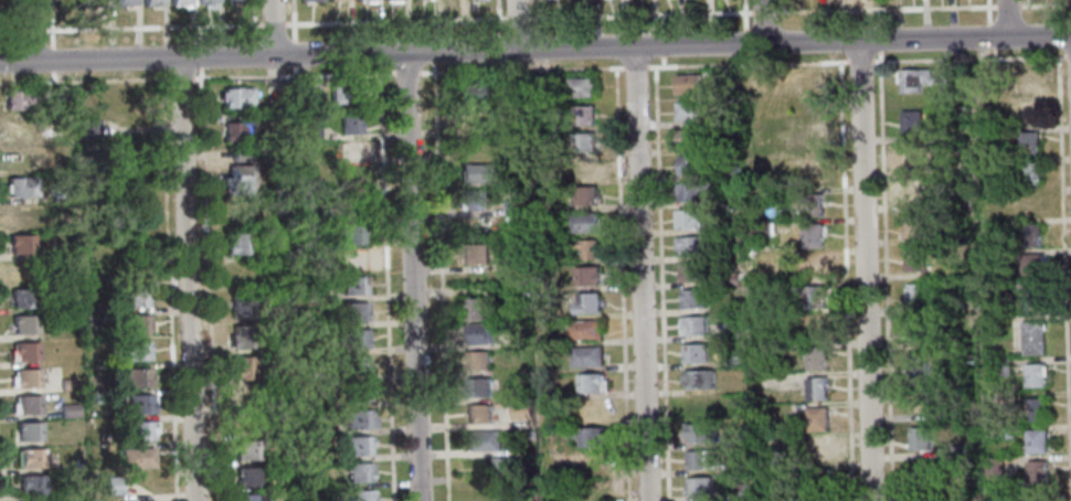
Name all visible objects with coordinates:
building: (311, 0)
building: (333, 0)
building: (358, 0)
building: (478, 0)
building: (205, 1)
building: (235, 1)
building: (369, 1)
building: (392, 1)
building: (125, 2)
building: (152, 2)
road: (1027, 2)
building: (96, 3)
building: (181, 3)
road: (987, 3)
road: (1046, 4)
road: (1007, 6)
road: (886, 8)
road: (499, 9)
road: (537, 11)
road: (654, 14)
road: (743, 15)
road: (519, 18)
road: (1006, 19)
road: (51, 22)
road: (762, 22)
road: (11, 23)
road: (254, 23)
road: (518, 24)
road: (256, 28)
road: (274, 28)
road: (295, 28)
road: (30, 31)
road: (538, 42)
road: (744, 42)
road: (1058, 42)
road: (879, 45)
road: (838, 47)
road: (535, 50)
road: (654, 51)
road: (614, 52)
road: (1068, 55)
road: (52, 57)
road: (381, 57)
road: (744, 58)
road: (968, 58)
road: (12, 60)
road: (203, 62)
road: (759, 63)
road: (538, 64)
road: (635, 66)
road: (409, 72)
road: (53, 76)
road: (13, 77)
road: (183, 78)
building: (913, 79)
building: (1025, 79)
road: (85, 81)
building: (805, 82)
building: (540, 84)
building: (951, 84)
building: (687, 85)
building: (580, 87)
building: (305, 90)
building: (468, 93)
building: (60, 94)
building: (341, 95)
building: (236, 98)
building: (22, 99)
building: (688, 111)
building: (1027, 113)
building: (581, 115)
building: (468, 119)
building: (911, 121)
building: (349, 122)
building: (89, 128)
building: (20, 129)
building: (238, 131)
building: (310, 131)
building: (987, 134)
building: (57, 137)
building: (763, 137)
building: (689, 138)
building: (583, 142)
building: (809, 143)
building: (1027, 143)
building: (349, 150)
building: (241, 154)
building: (109, 157)
building: (911, 157)
building: (22, 158)
building: (689, 164)
building: (768, 166)
building: (583, 169)
building: (475, 172)
building: (729, 172)
building: (1027, 173)
building: (810, 174)
building: (349, 179)
building: (238, 181)
building: (22, 188)
building: (693, 191)
building: (915, 192)
building: (60, 193)
building: (760, 195)
building: (584, 196)
building: (471, 201)
building: (950, 202)
building: (1031, 203)
building: (812, 205)
building: (512, 206)
building: (237, 211)
building: (23, 216)
building: (690, 220)
building: (274, 221)
building: (583, 221)
building: (913, 225)
building: (762, 228)
building: (350, 235)
building: (1030, 235)
building: (812, 236)
building: (940, 237)
building: (237, 243)
building: (21, 244)
building: (689, 245)
building: (587, 248)
building: (475, 254)
building: (351, 258)
building: (914, 260)
building: (515, 262)
building: (812, 265)
building: (1030, 265)
building: (22, 271)
road: (863, 271)
road: (640, 273)
building: (691, 273)
road: (1063, 274)
road: (886, 275)
road: (413, 276)
road: (442, 276)
building: (587, 276)
road: (845, 277)
road: (660, 278)
road: (187, 279)
road: (622, 279)
road: (389, 281)
road: (210, 284)
building: (353, 286)
road: (170, 289)
building: (762, 290)
building: (314, 292)
building: (914, 295)
building: (1031, 296)
building: (135, 297)
building: (814, 297)
building: (23, 298)
building: (693, 298)
building: (244, 303)
building: (586, 303)
building: (479, 309)
building: (354, 311)
building: (25, 324)
building: (137, 324)
building: (694, 326)
building: (815, 328)
building: (916, 329)
building: (584, 330)
building: (732, 331)
building: (481, 333)
building: (240, 337)
building: (1032, 338)
building: (354, 339)
building: (282, 345)
building: (134, 351)
building: (25, 352)
building: (696, 353)
building: (586, 356)
building: (734, 359)
building: (815, 359)
building: (478, 361)
building: (916, 363)
building: (354, 365)
building: (1001, 367)
building: (242, 369)
building: (316, 373)
building: (284, 374)
building: (1035, 375)
building: (136, 377)
building: (25, 379)
building: (699, 379)
building: (590, 383)
building: (67, 384)
building: (478, 387)
building: (816, 388)
building: (356, 392)
building: (97, 397)
building: (245, 397)
building: (919, 401)
building: (317, 403)
building: (26, 405)
building: (138, 405)
building: (1035, 409)
building: (67, 411)
building: (521, 411)
building: (479, 414)
building: (359, 419)
building: (817, 419)
building: (324, 429)
building: (28, 431)
building: (139, 431)
building: (1004, 431)
building: (700, 434)
building: (587, 436)
building: (920, 438)
building: (483, 440)
building: (1036, 441)
building: (358, 445)
building: (817, 448)
building: (247, 450)
building: (959, 450)
building: (31, 458)
building: (135, 458)
building: (703, 459)
building: (500, 467)
building: (994, 467)
building: (359, 472)
building: (1037, 472)
building: (921, 476)
building: (247, 477)
building: (819, 478)
building: (31, 484)
building: (113, 486)
building: (700, 487)
building: (740, 491)
building: (359, 495)
building: (1038, 495)
building: (247, 498)
building: (820, 500)

